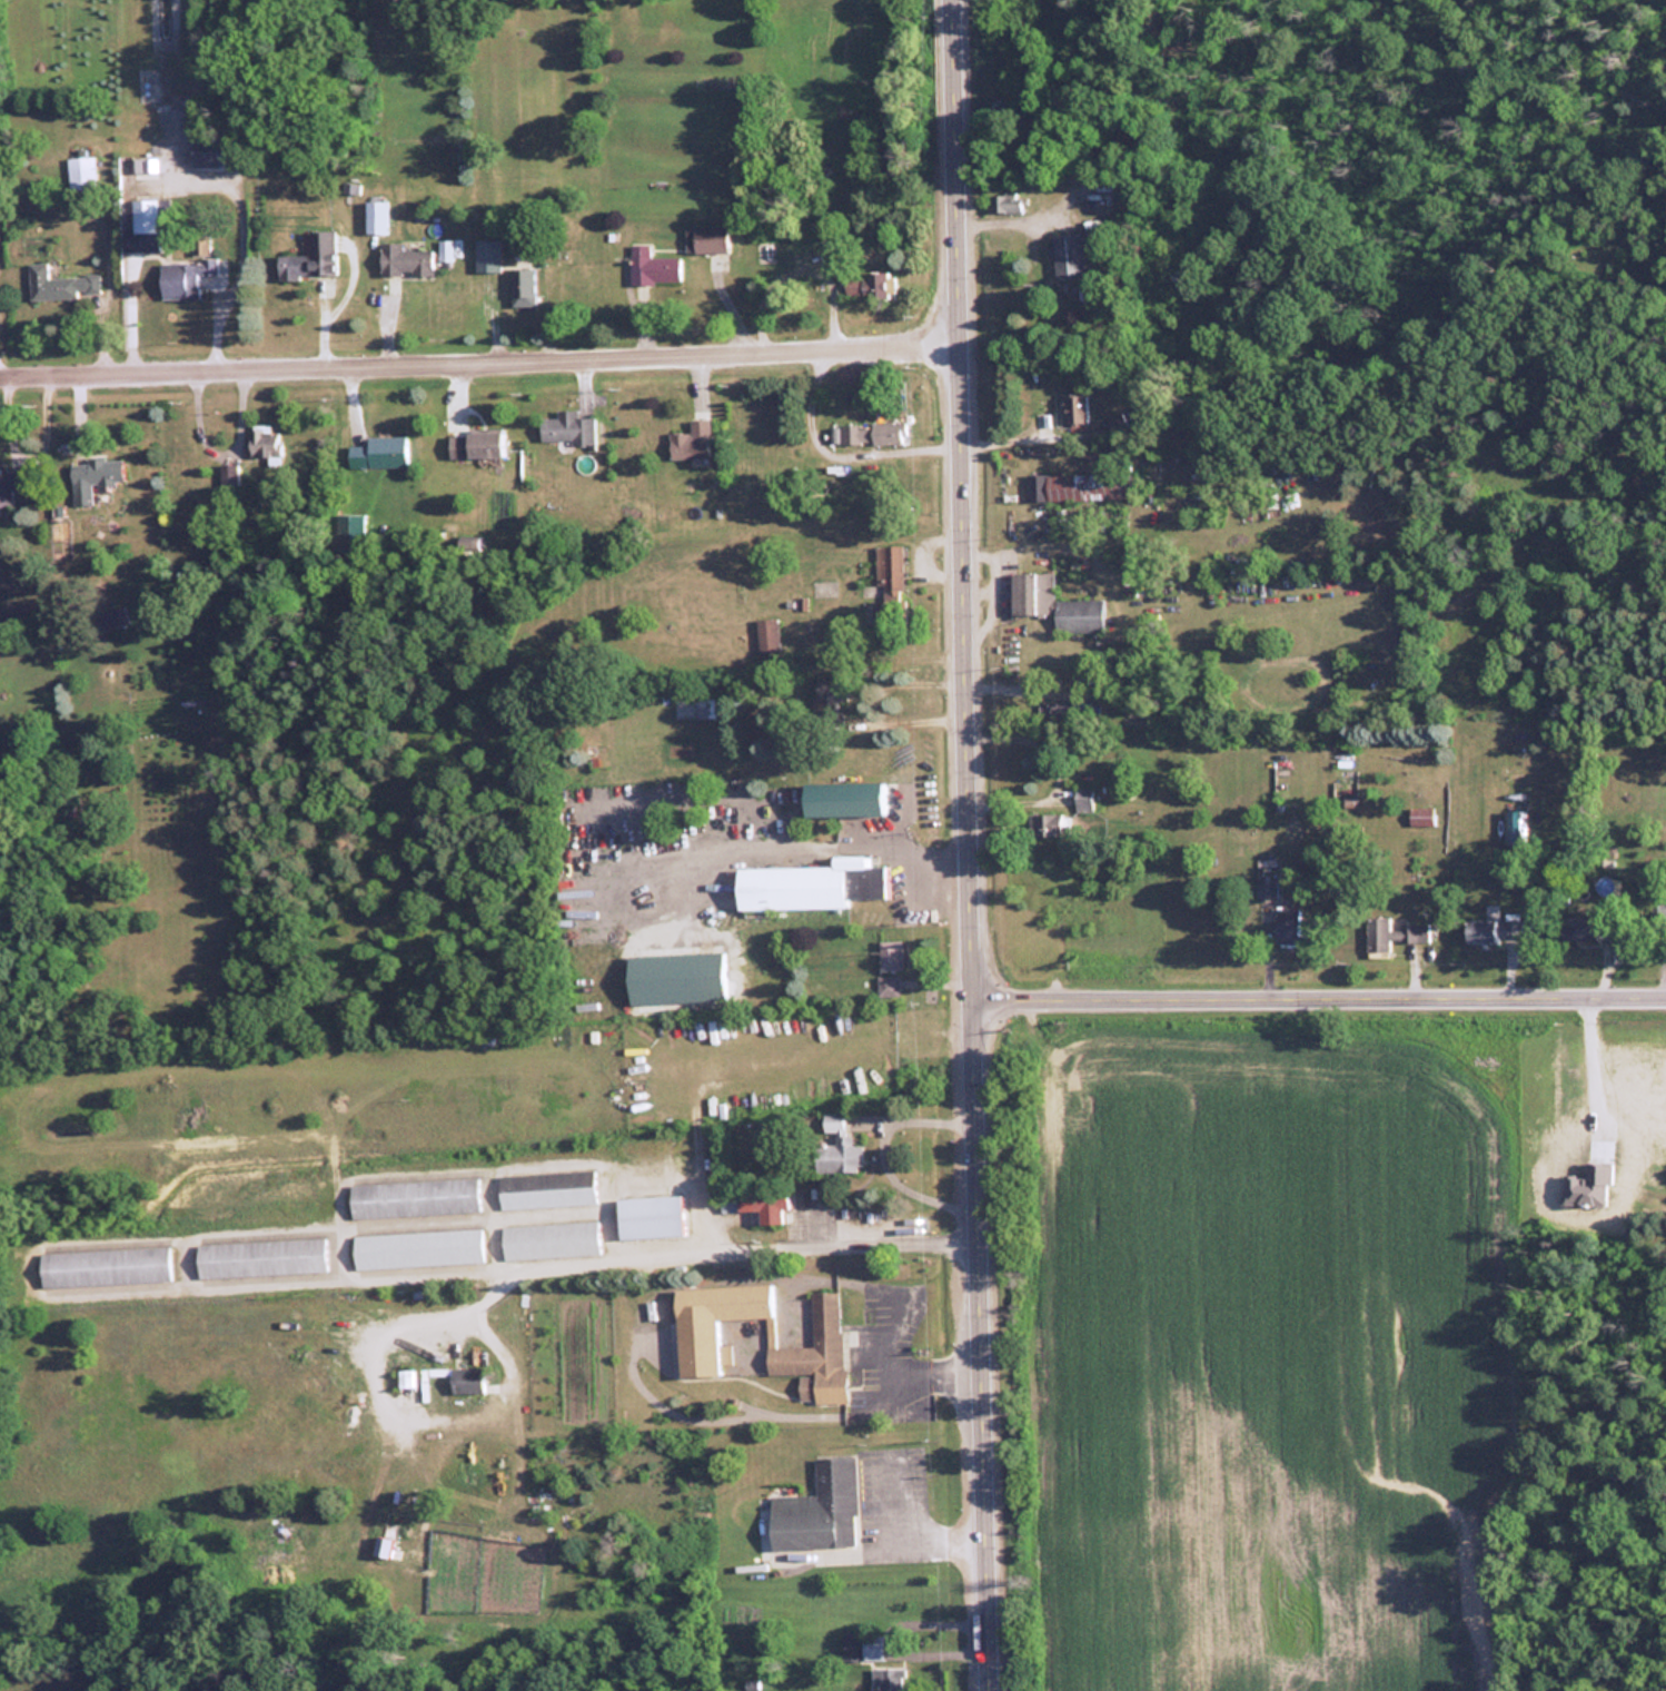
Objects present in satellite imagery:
building: (211, 152)
building: (147, 169)
building: (86, 175)
building: (1011, 206)
building: (379, 219)
building: (1097, 220)
building: (145, 226)
building: (711, 241)
building: (446, 250)
building: (488, 253)
building: (771, 254)
building: (1072, 259)
building: (315, 260)
building: (407, 263)
building: (655, 268)
building: (187, 279)
building: (65, 286)
building: (874, 286)
building: (526, 289)
road: (482, 358)
building: (1078, 408)
building: (1117, 427)
building: (569, 428)
building: (875, 435)
building: (694, 443)
building: (268, 444)
building: (479, 445)
building: (381, 454)
road: (839, 457)
building: (231, 478)
building: (97, 479)
building: (1078, 485)
building: (11, 487)
building: (353, 535)
building: (891, 571)
building: (1058, 605)
building: (890, 613)
building: (113, 619)
building: (770, 637)
building: (833, 696)
road: (864, 704)
building: (707, 710)
building: (1057, 711)
road: (1055, 773)
building: (850, 800)
building: (1087, 802)
building: (1421, 817)
building: (1050, 827)
building: (1517, 829)
road: (971, 844)
road: (880, 849)
building: (815, 887)
building: (1268, 890)
building: (1659, 916)
building: (1291, 928)
building: (1593, 930)
building: (1497, 932)
building: (1394, 936)
building: (895, 959)
building: (678, 978)
building: (891, 989)
road: (1320, 992)
road: (880, 1155)
building: (842, 1157)
building: (549, 1191)
building: (417, 1200)
building: (761, 1205)
building: (654, 1219)
building: (553, 1242)
building: (420, 1250)
road: (691, 1254)
building: (264, 1260)
building: (107, 1269)
building: (701, 1334)
building: (469, 1383)
building: (822, 1512)
building: (385, 1546)
road: (887, 1550)
road: (886, 1638)
building: (853, 1650)
building: (887, 1680)

